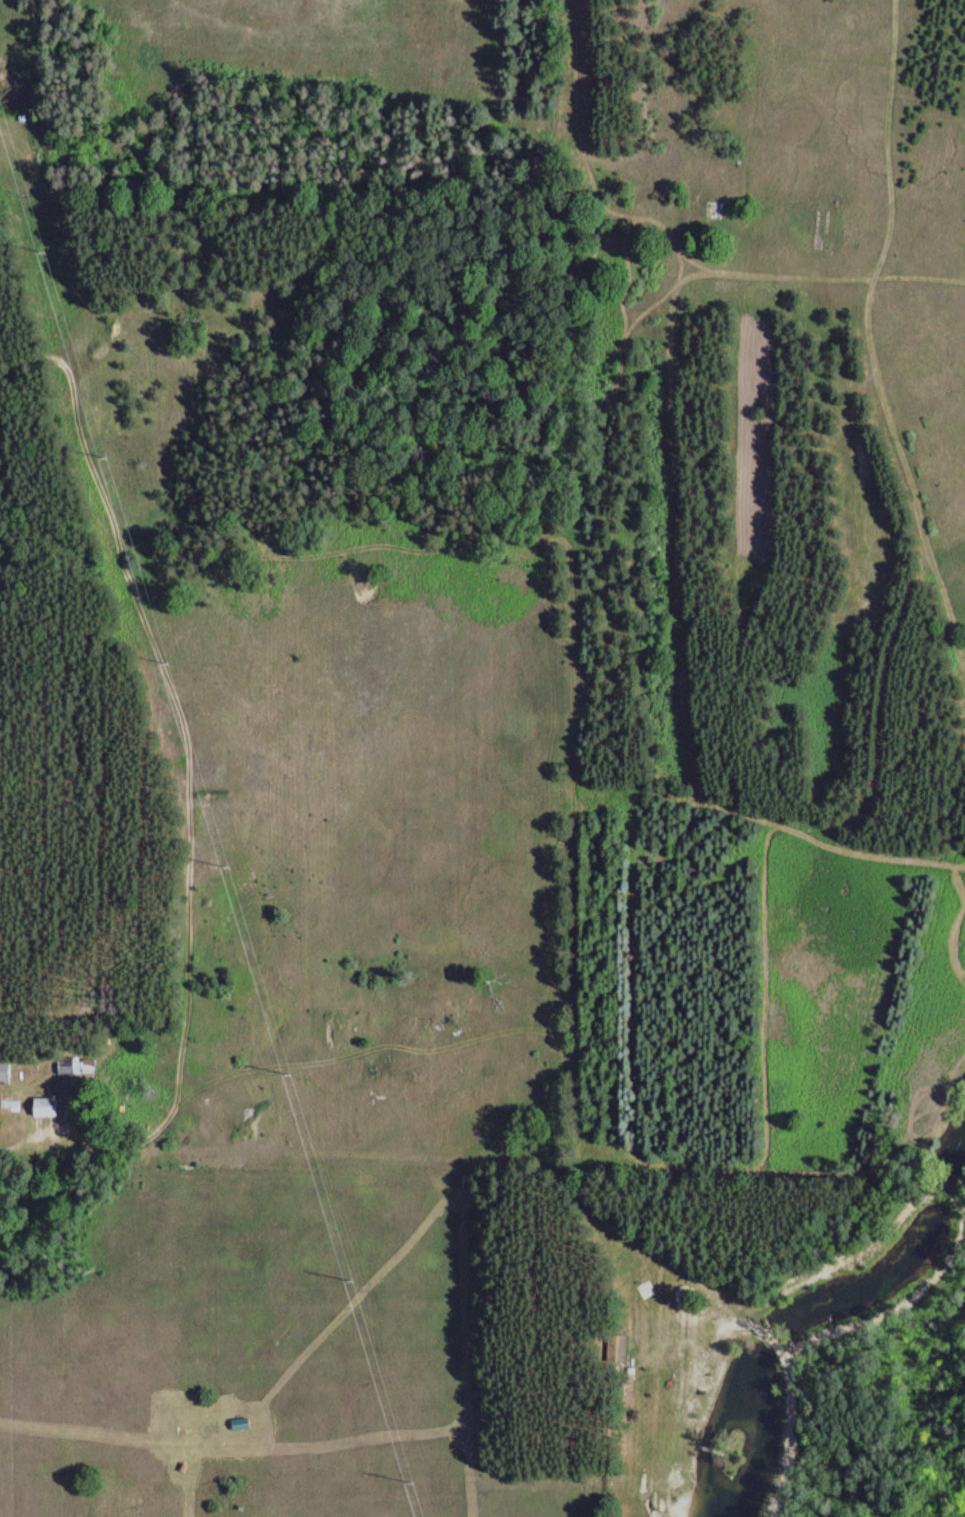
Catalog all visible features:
building: (75, 1064)
building: (4, 1071)
building: (42, 1106)
building: (616, 1348)
building: (622, 1385)
building: (238, 1423)

